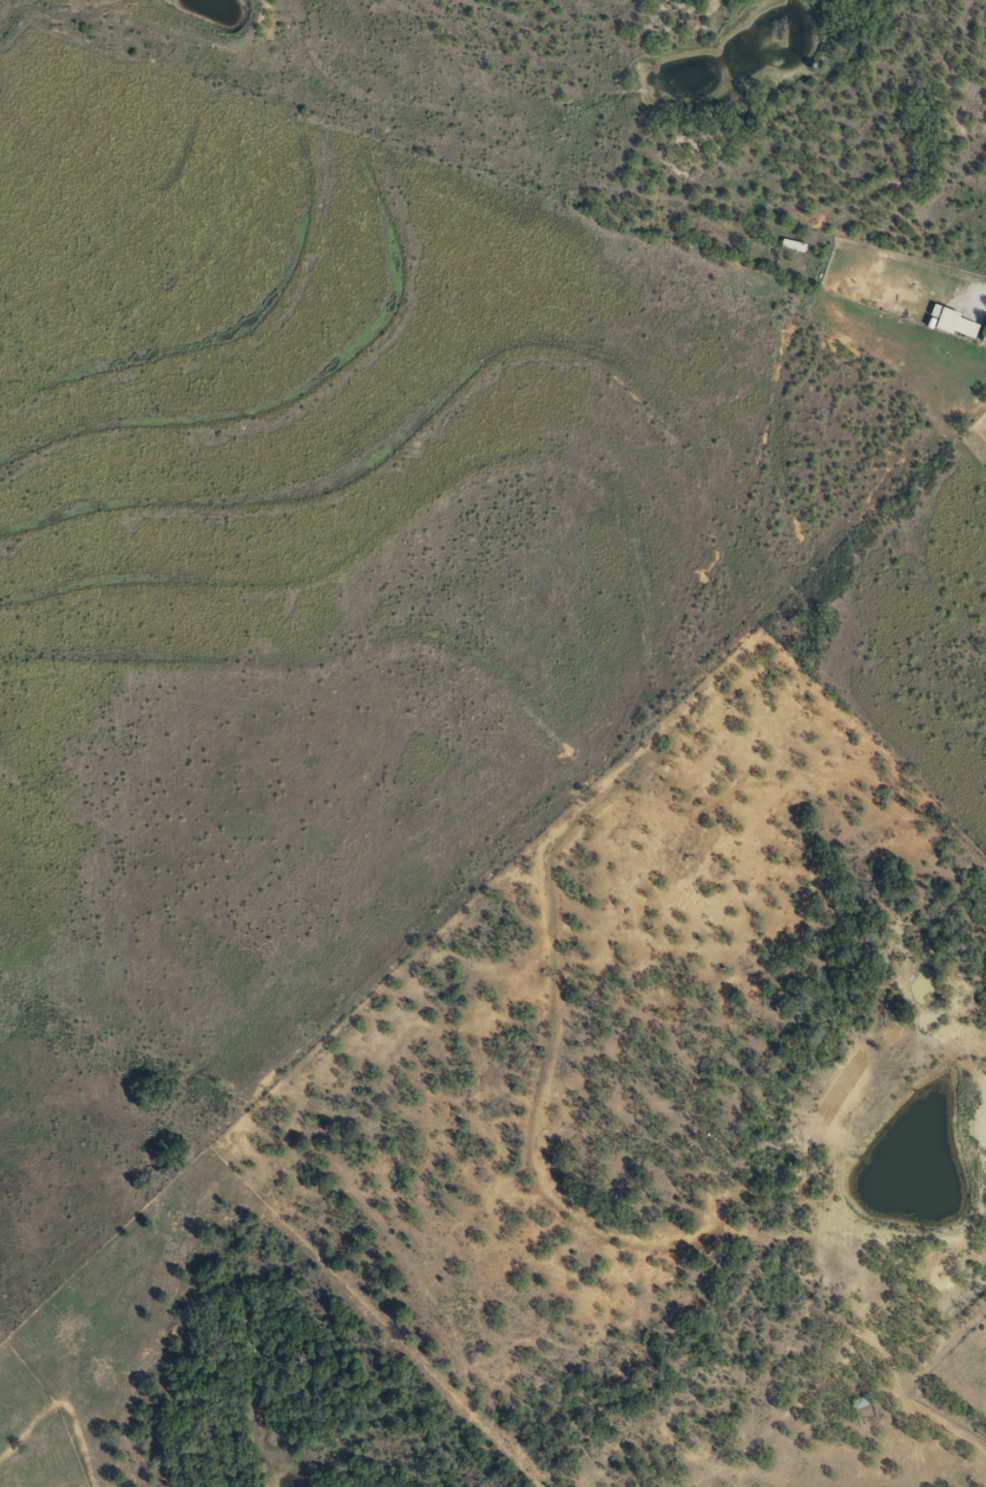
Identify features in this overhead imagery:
building: (792, 245)
building: (953, 322)
building: (984, 328)
building: (860, 1401)

